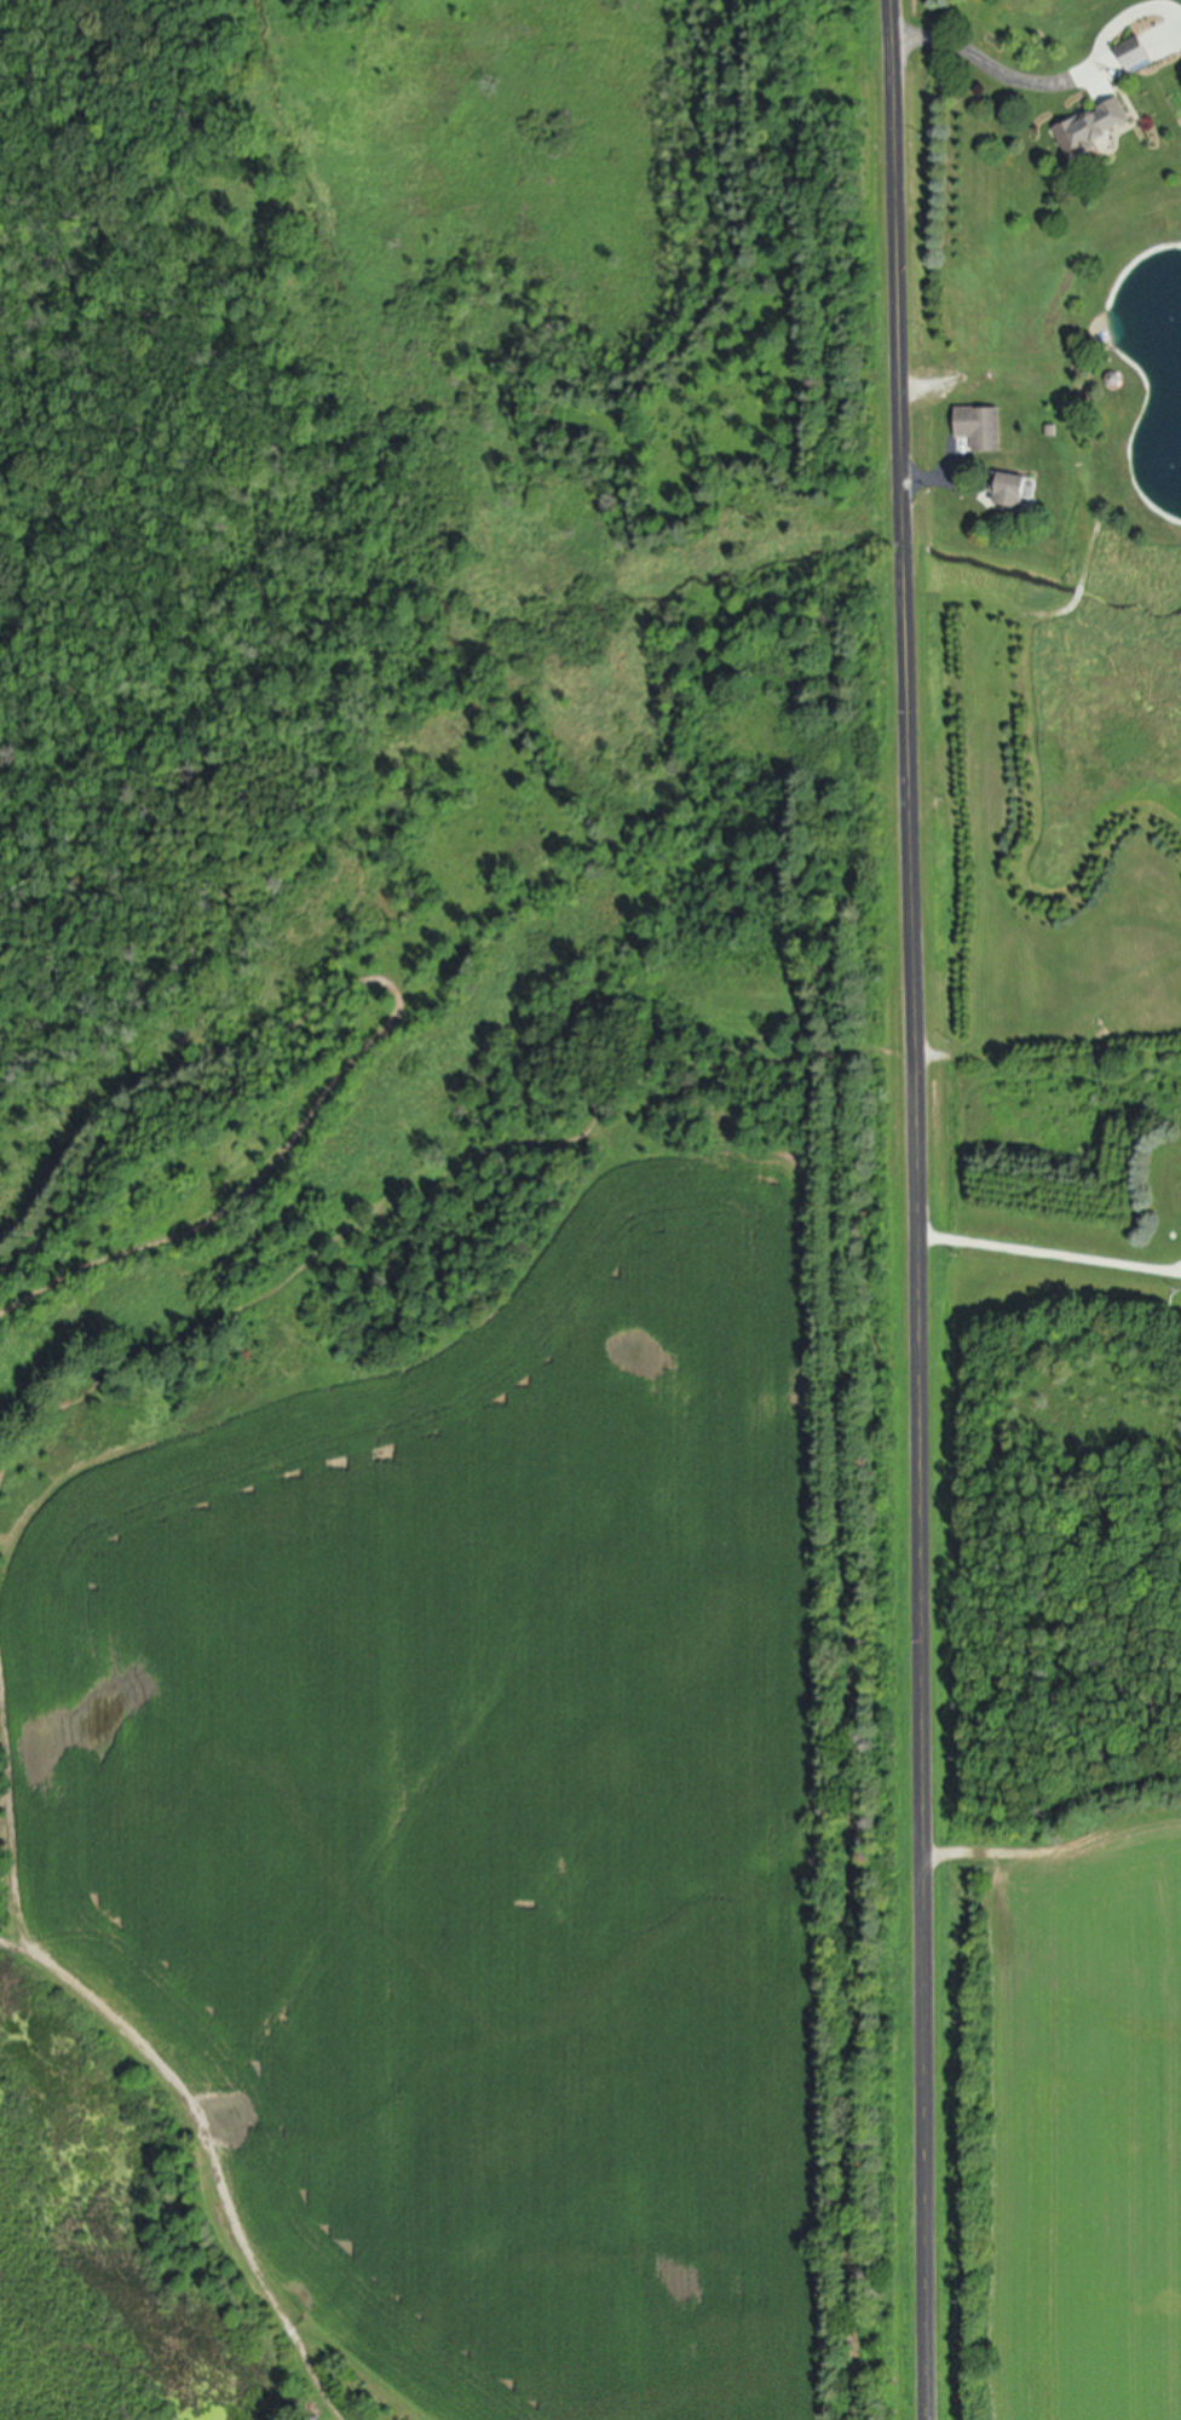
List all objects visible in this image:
building: (1134, 56)
road: (992, 67)
building: (1093, 128)
building: (979, 427)
road: (927, 477)
building: (1009, 490)
road: (918, 1209)
road: (1050, 1251)

